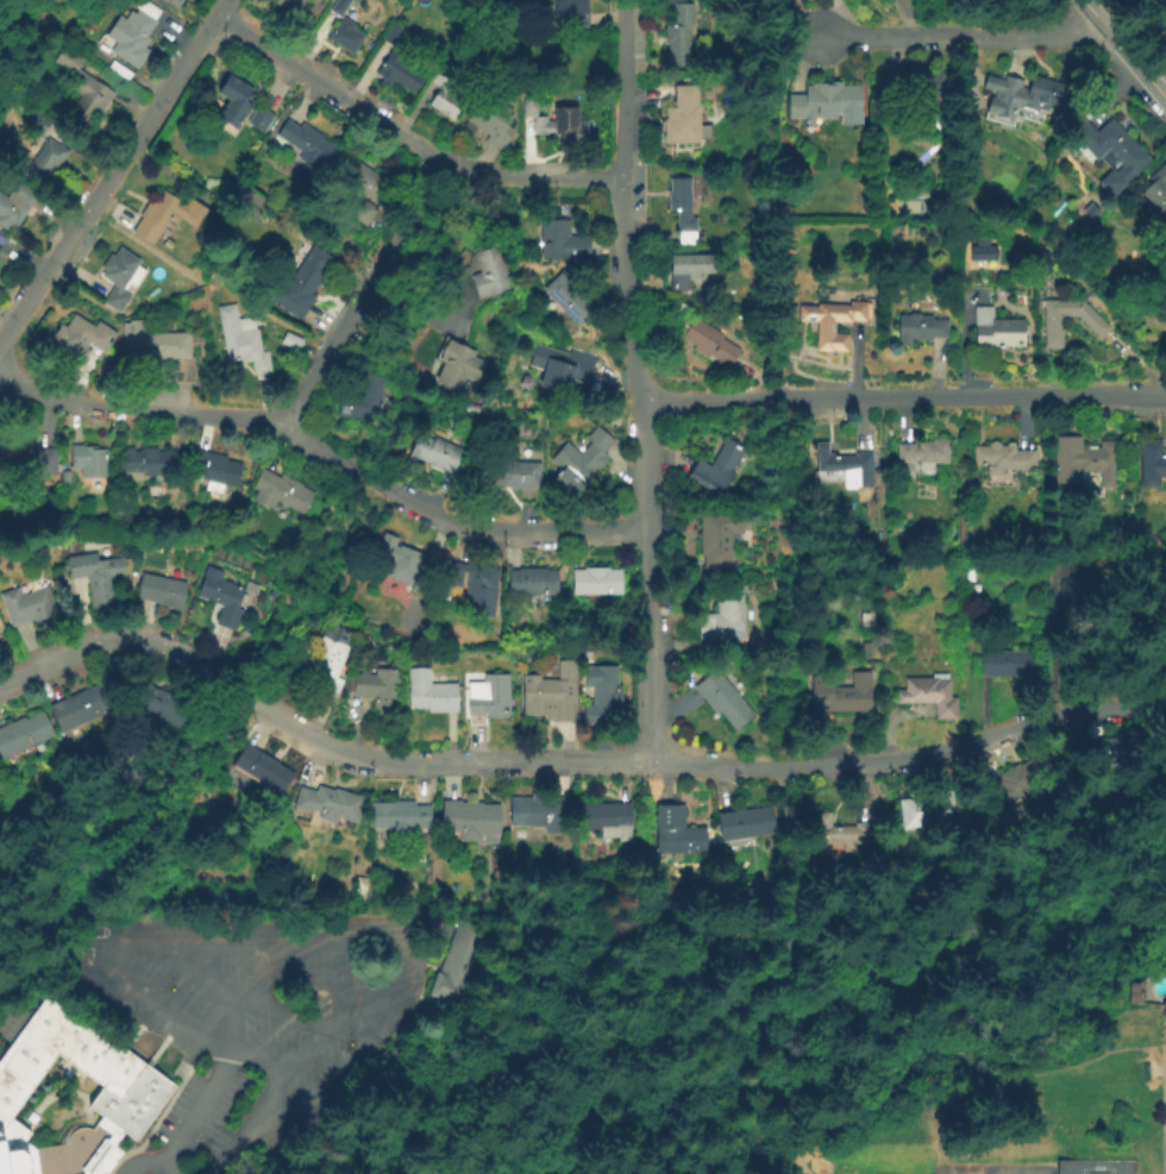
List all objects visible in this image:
building: (804, 1)
building: (173, 2)
building: (289, 6)
building: (338, 7)
building: (569, 13)
building: (395, 34)
road: (965, 37)
building: (130, 38)
building: (345, 38)
building: (677, 39)
road: (1122, 50)
building: (401, 73)
building: (698, 80)
building: (916, 87)
building: (80, 89)
building: (445, 95)
building: (1022, 96)
building: (234, 102)
building: (823, 102)
building: (259, 120)
building: (683, 120)
building: (490, 124)
building: (554, 125)
road: (406, 142)
building: (303, 145)
building: (38, 147)
building: (1111, 152)
road: (115, 171)
building: (1156, 190)
building: (355, 192)
building: (14, 208)
building: (681, 211)
building: (1089, 212)
building: (168, 218)
building: (560, 243)
building: (0, 247)
building: (980, 250)
road: (456, 268)
building: (689, 271)
building: (488, 272)
building: (307, 275)
building: (117, 280)
road: (359, 296)
building: (571, 300)
building: (832, 324)
building: (1093, 324)
building: (917, 328)
building: (996, 332)
building: (81, 339)
building: (240, 340)
building: (289, 343)
building: (709, 344)
building: (164, 347)
building: (562, 365)
building: (452, 368)
road: (640, 379)
building: (358, 391)
road: (904, 397)
road: (327, 451)
building: (435, 453)
building: (920, 456)
building: (31, 462)
building: (88, 462)
building: (149, 462)
building: (1002, 462)
building: (579, 463)
building: (841, 463)
building: (1080, 463)
building: (1151, 464)
building: (214, 470)
building: (714, 470)
building: (513, 473)
building: (63, 478)
building: (281, 492)
building: (716, 539)
building: (70, 546)
building: (402, 566)
building: (94, 576)
building: (595, 583)
building: (532, 584)
building: (1077, 586)
building: (477, 590)
building: (159, 591)
building: (446, 595)
building: (1077, 598)
building: (221, 601)
building: (24, 605)
building: (721, 620)
building: (1164, 658)
building: (1001, 664)
building: (324, 668)
building: (376, 689)
building: (430, 695)
building: (548, 696)
building: (600, 696)
building: (839, 696)
building: (928, 696)
building: (488, 698)
building: (721, 701)
building: (156, 704)
building: (80, 709)
building: (21, 734)
building: (1114, 753)
road: (566, 761)
building: (262, 768)
building: (1014, 783)
building: (327, 804)
building: (916, 811)
building: (535, 814)
building: (399, 817)
building: (604, 818)
building: (471, 821)
building: (745, 825)
building: (673, 833)
building: (840, 833)
road: (788, 849)
building: (362, 889)
building: (457, 963)
road: (102, 967)
road: (399, 988)
building: (1134, 998)
road: (309, 1005)
road: (786, 1021)
building: (408, 1051)
building: (121, 1076)
road: (195, 1110)
road: (905, 1110)
road: (786, 1124)
road: (795, 1156)
road: (144, 1161)
road: (805, 1173)

